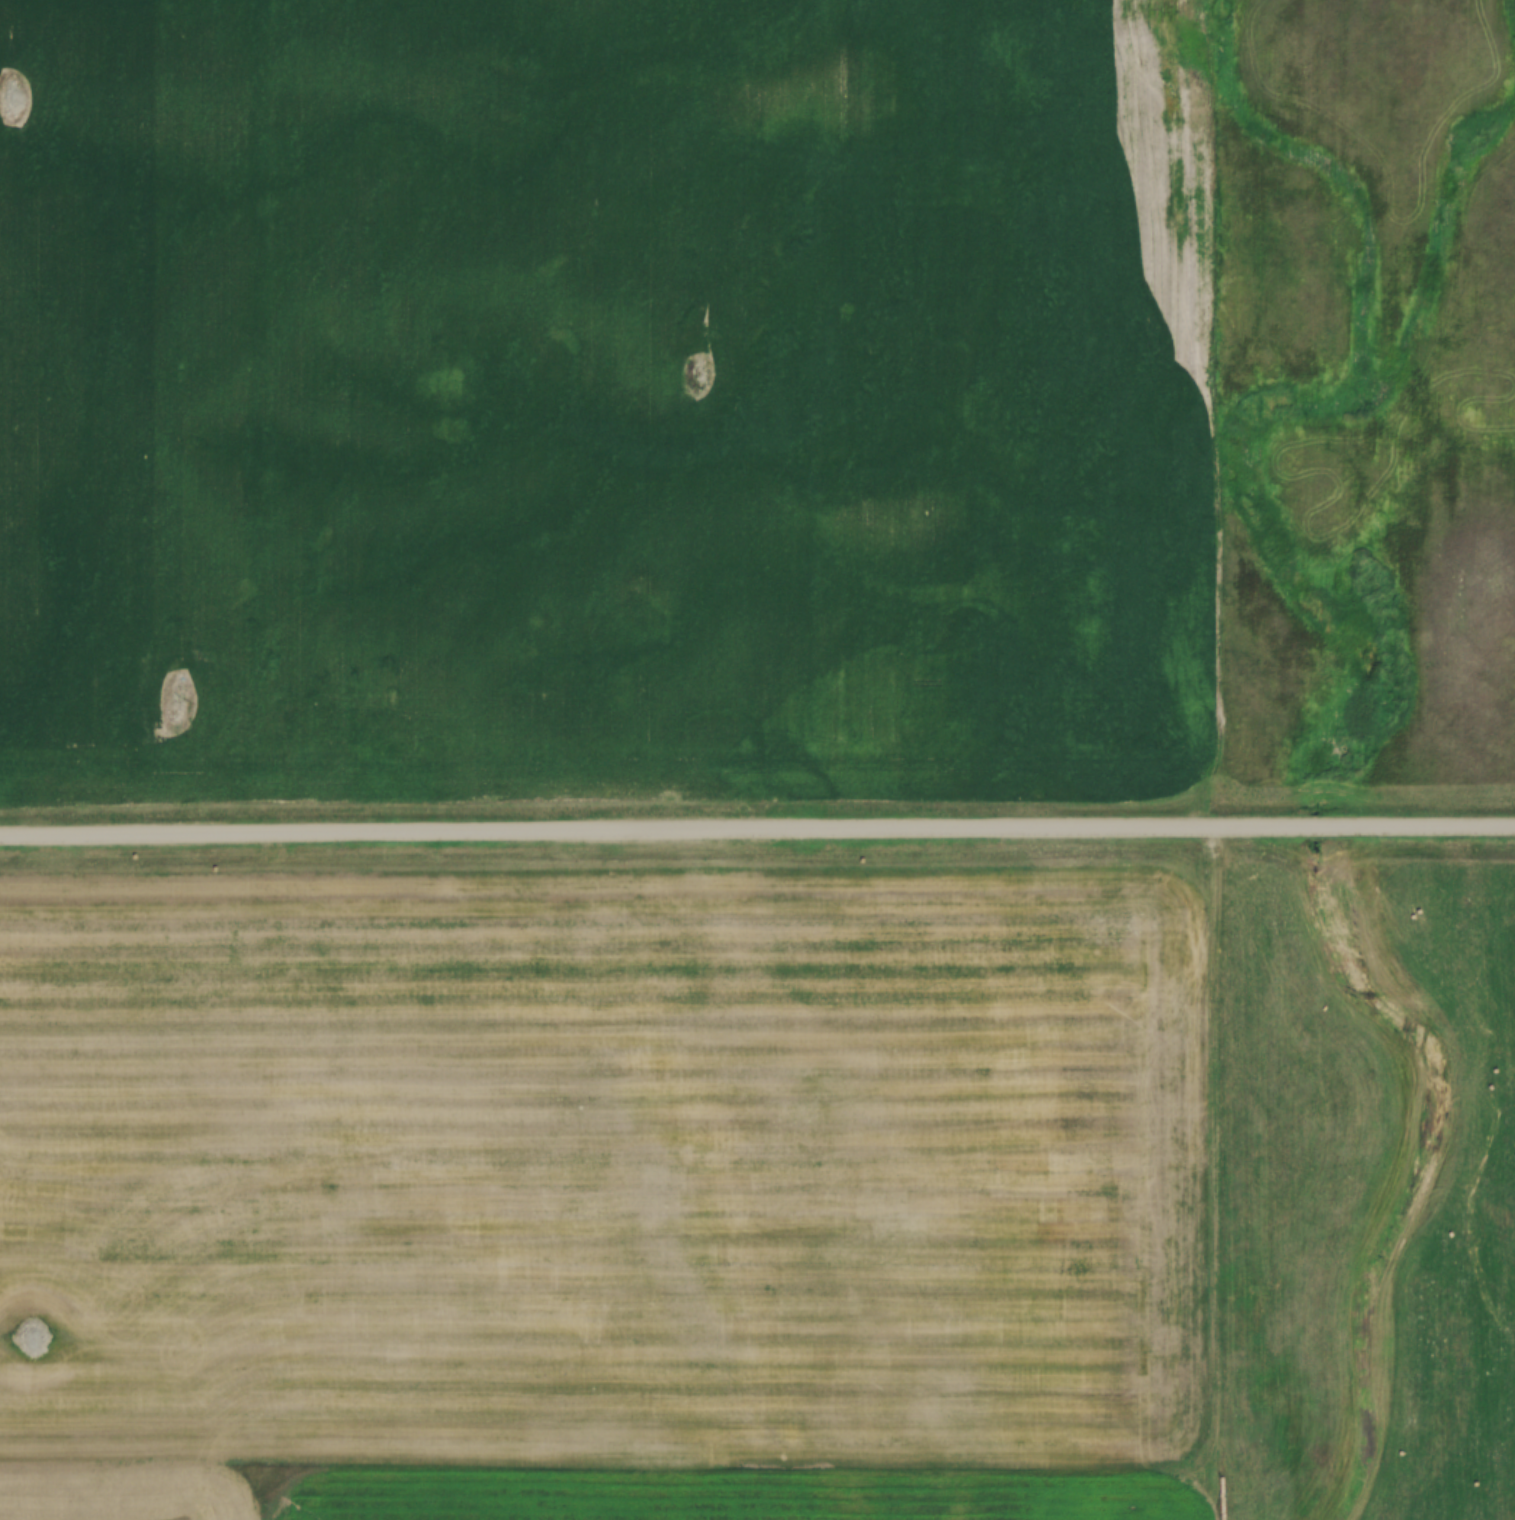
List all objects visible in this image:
road: (757, 830)

